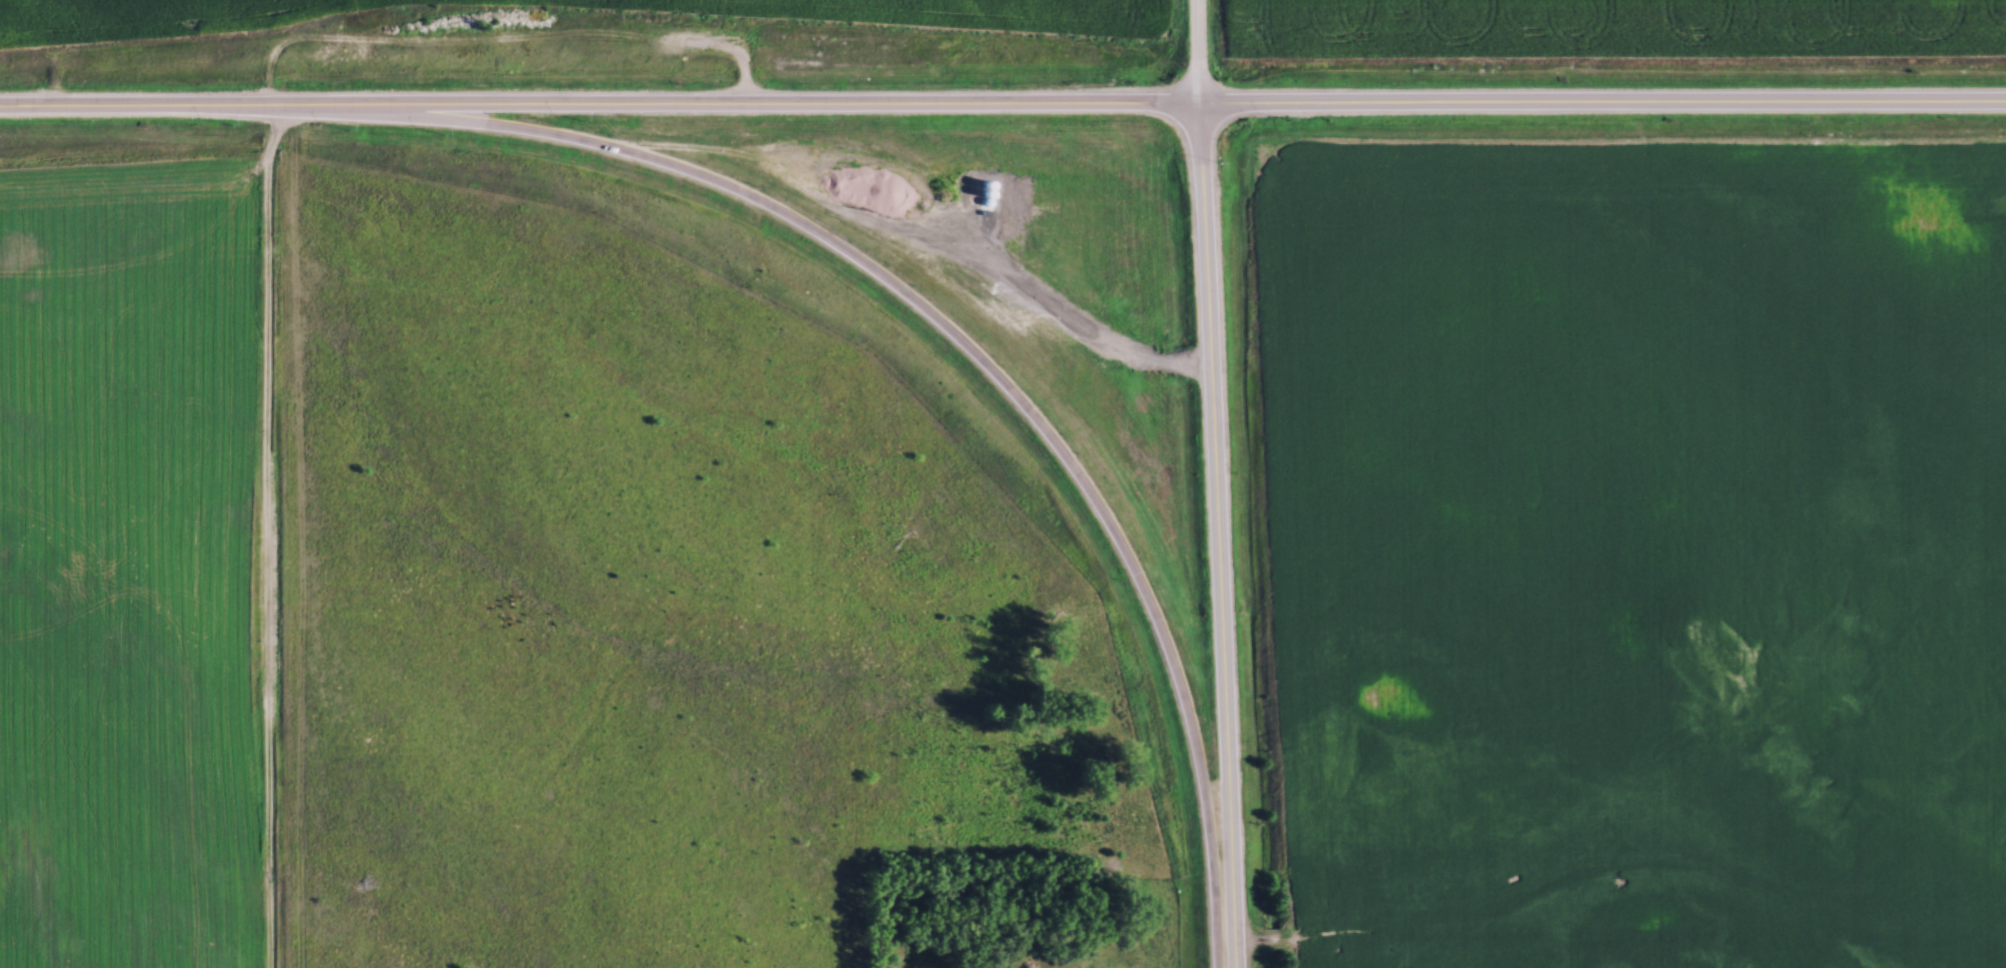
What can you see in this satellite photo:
road: (1198, 52)
road: (1002, 105)
road: (970, 352)
road: (1218, 536)
road: (263, 537)

